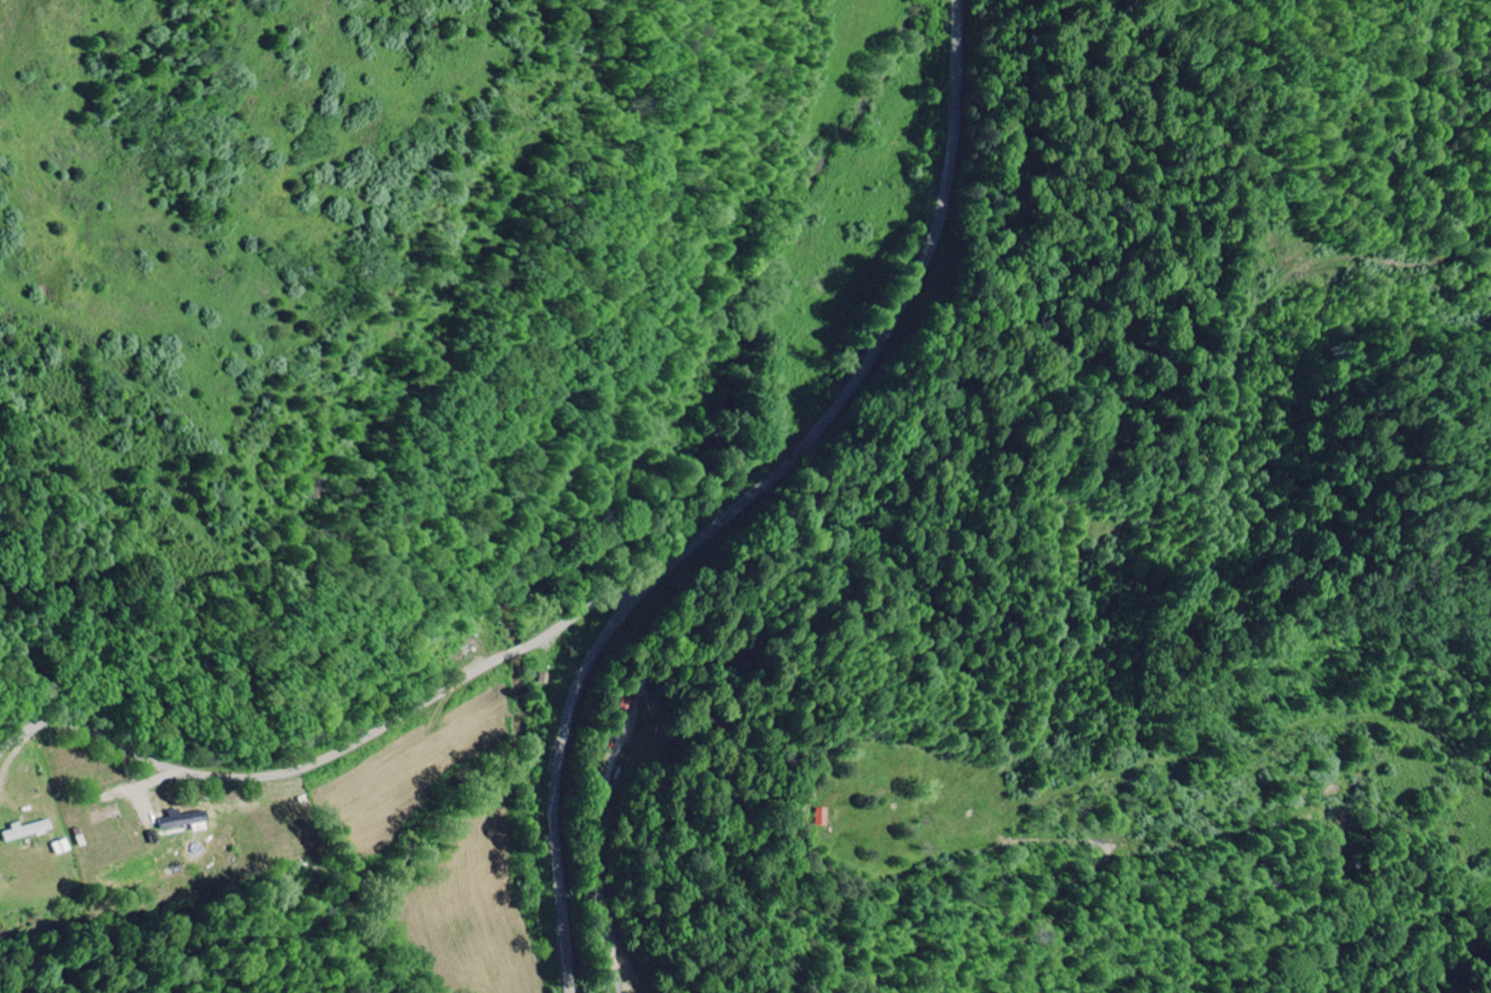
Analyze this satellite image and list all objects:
road: (753, 501)
road: (345, 752)
building: (819, 817)
building: (189, 820)
building: (25, 832)

